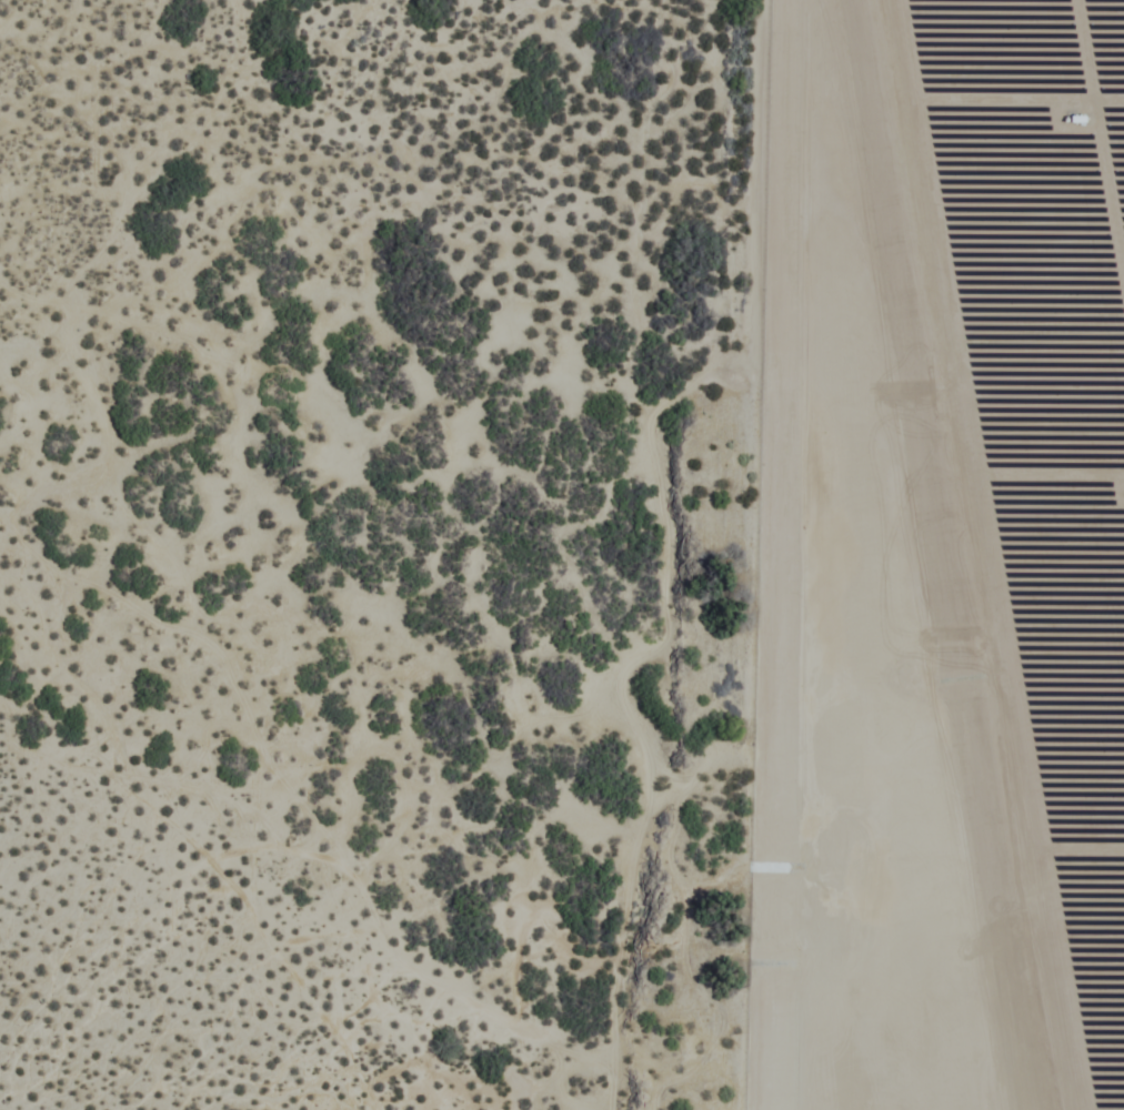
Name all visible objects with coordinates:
solar farm: (943, 559)

